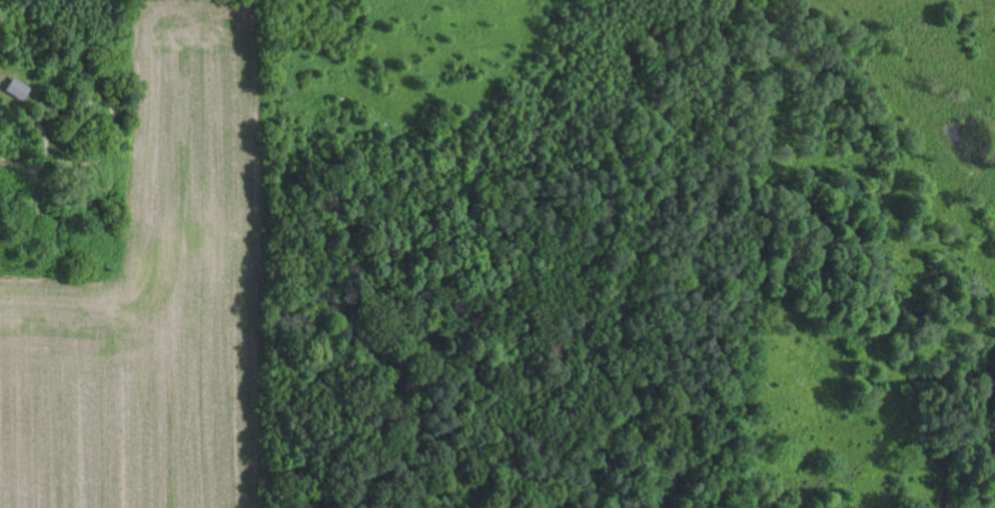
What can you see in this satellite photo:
building: (17, 90)

